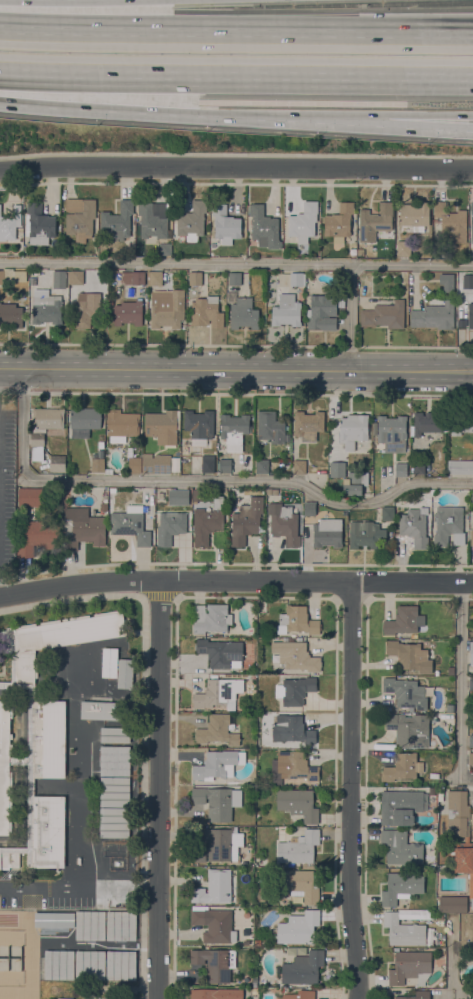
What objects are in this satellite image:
road: (74, 9)
road: (236, 29)
road: (236, 79)
road: (100, 99)
road: (294, 121)
road: (431, 124)
road: (431, 128)
road: (236, 166)
building: (472, 209)
building: (18, 215)
building: (414, 215)
building: (79, 218)
building: (153, 219)
building: (117, 221)
building: (192, 221)
building: (303, 222)
building: (339, 222)
building: (375, 222)
building: (451, 222)
building: (38, 224)
building: (225, 224)
building: (264, 227)
building: (7, 228)
building: (164, 248)
building: (403, 248)
road: (236, 264)
building: (12, 276)
building: (75, 277)
building: (138, 277)
building: (155, 278)
building: (194, 278)
building: (234, 278)
building: (296, 278)
building: (59, 279)
building: (446, 280)
building: (467, 281)
building: (141, 290)
building: (167, 308)
building: (47, 309)
building: (85, 309)
building: (128, 312)
building: (206, 312)
building: (322, 312)
building: (243, 313)
building: (286, 313)
building: (384, 314)
building: (434, 314)
building: (470, 314)
building: (10, 315)
road: (353, 318)
road: (236, 369)
building: (84, 421)
building: (427, 422)
building: (461, 422)
building: (122, 423)
building: (308, 424)
building: (199, 425)
building: (162, 426)
building: (270, 426)
building: (43, 428)
building: (234, 430)
building: (352, 430)
building: (392, 433)
building: (57, 463)
building: (155, 463)
building: (207, 463)
building: (97, 464)
building: (134, 464)
building: (225, 465)
building: (262, 466)
building: (299, 466)
building: (460, 466)
building: (418, 467)
building: (337, 469)
building: (400, 469)
road: (197, 481)
building: (354, 482)
building: (112, 489)
parking lot: (7, 494)
building: (197, 494)
building: (31, 496)
building: (178, 496)
building: (105, 498)
building: (308, 508)
building: (387, 513)
building: (247, 520)
building: (206, 521)
building: (284, 522)
building: (131, 524)
building: (448, 525)
building: (170, 526)
building: (415, 526)
building: (82, 529)
building: (328, 532)
building: (366, 534)
building: (36, 536)
building: (471, 537)
road: (235, 581)
building: (211, 617)
building: (297, 620)
building: (404, 620)
building: (55, 639)
building: (220, 652)
building: (471, 652)
building: (295, 655)
building: (410, 655)
building: (110, 662)
building: (450, 669)
building: (437, 671)
building: (124, 673)
road: (460, 680)
building: (471, 683)
building: (21, 686)
building: (295, 690)
building: (406, 692)
building: (219, 693)
building: (451, 709)
building: (103, 710)
building: (291, 729)
building: (409, 729)
building: (217, 730)
building: (115, 734)
building: (46, 738)
building: (471, 740)
building: (471, 758)
building: (18, 760)
building: (115, 760)
building: (218, 764)
building: (295, 765)
building: (5, 767)
building: (403, 767)
building: (30, 786)
road: (161, 789)
building: (114, 791)
road: (352, 791)
building: (217, 801)
building: (297, 803)
building: (472, 804)
building: (401, 806)
building: (457, 812)
building: (114, 822)
building: (45, 831)
building: (223, 843)
building: (298, 847)
building: (400, 847)
building: (23, 849)
building: (198, 853)
building: (9, 857)
building: (461, 861)
building: (299, 884)
road: (80, 886)
building: (214, 887)
building: (401, 887)
building: (452, 903)
building: (54, 919)
building: (214, 924)
building: (90, 925)
building: (121, 925)
building: (298, 927)
building: (403, 930)
building: (257, 942)
road: (449, 960)
building: (215, 963)
building: (59, 964)
building: (90, 964)
building: (121, 965)
building: (303, 967)
building: (410, 967)
building: (254, 990)
building: (216, 994)
building: (300, 995)
building: (416, 995)
building: (65, 998)

